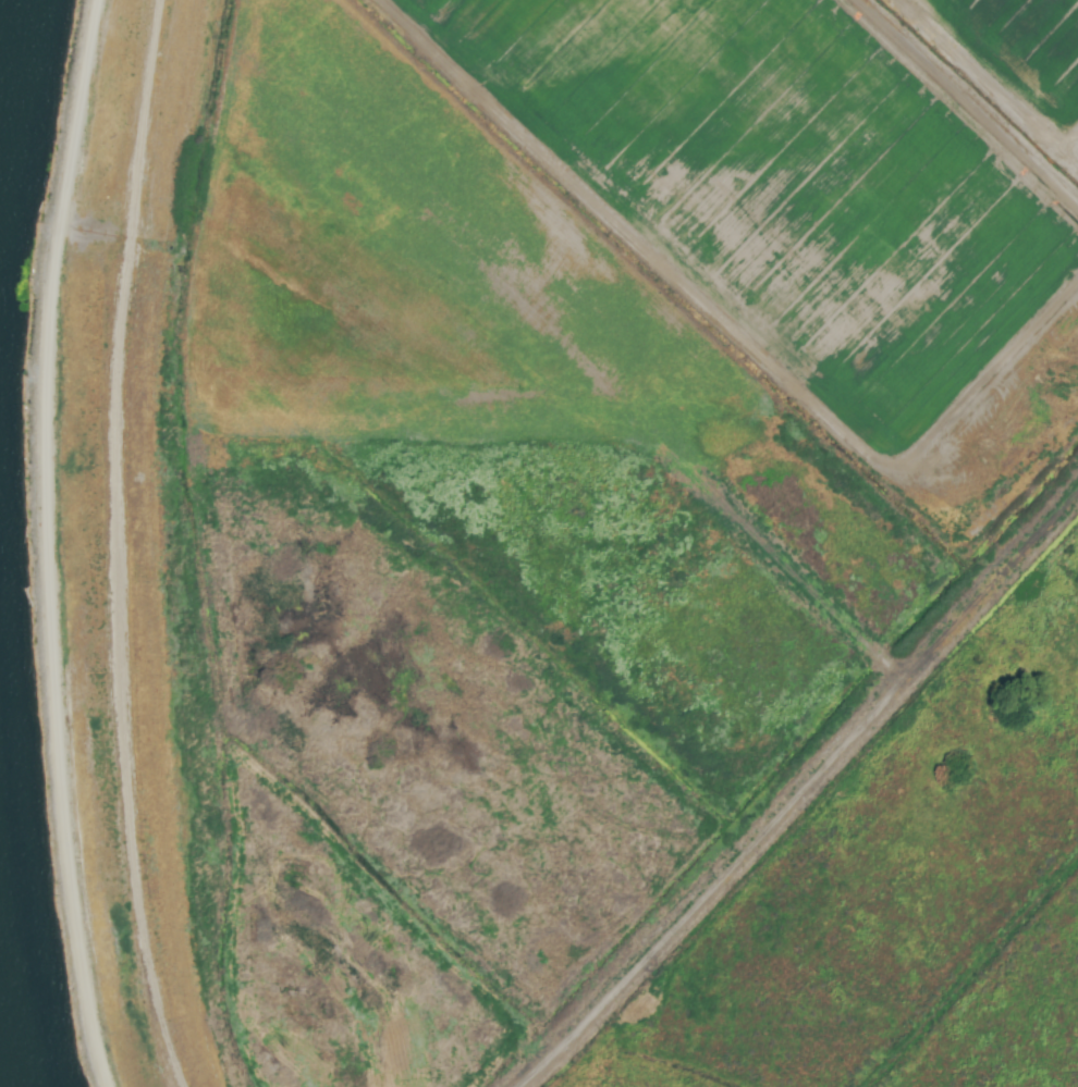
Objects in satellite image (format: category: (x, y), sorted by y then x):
crop: (620, 538)
road: (47, 542)

